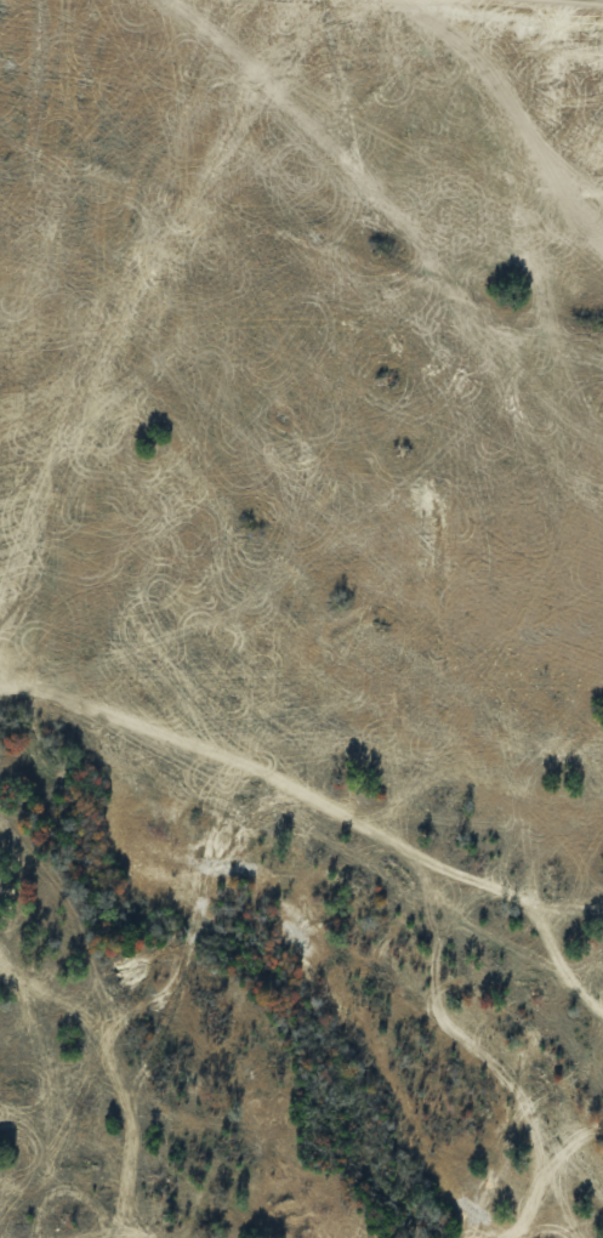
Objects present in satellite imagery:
road: (585, 1)

